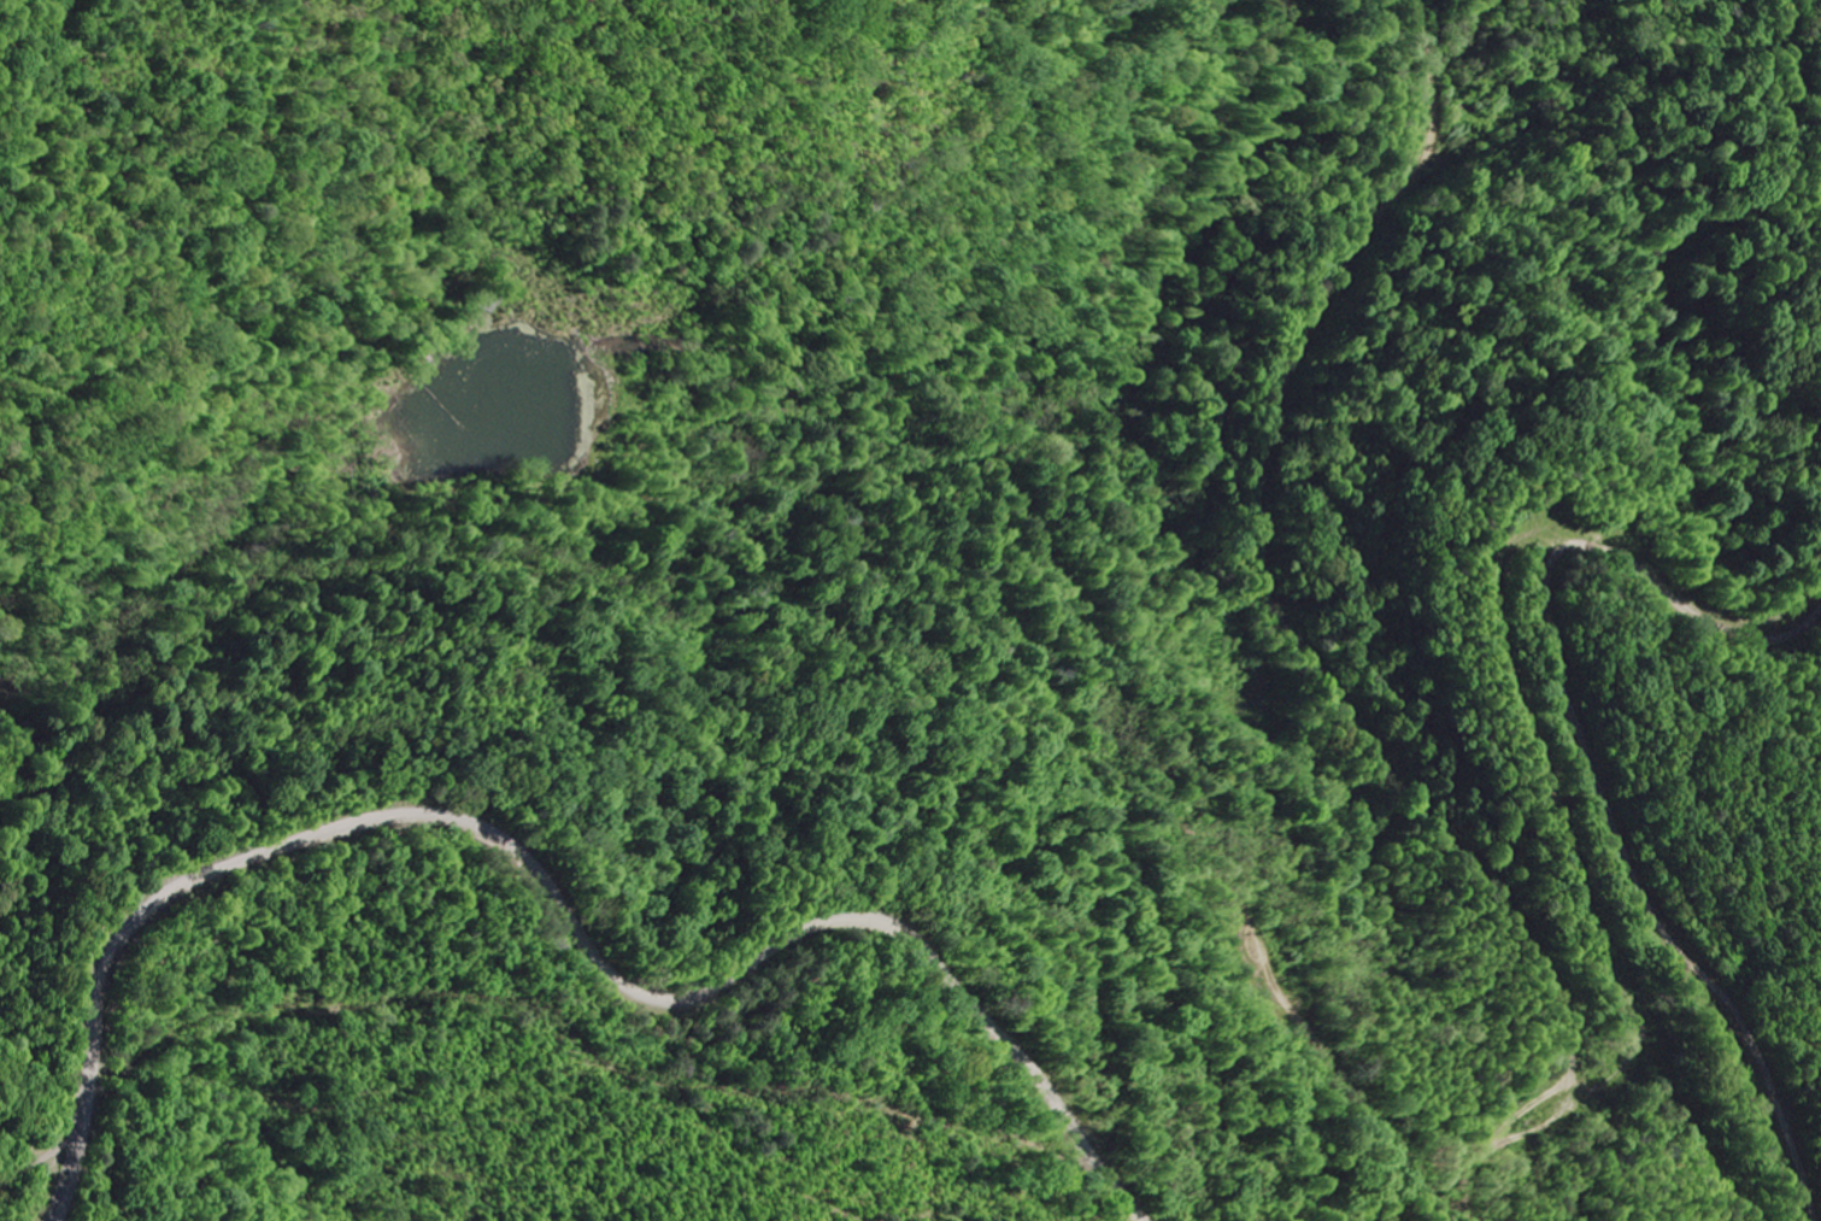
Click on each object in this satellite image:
road: (551, 900)

